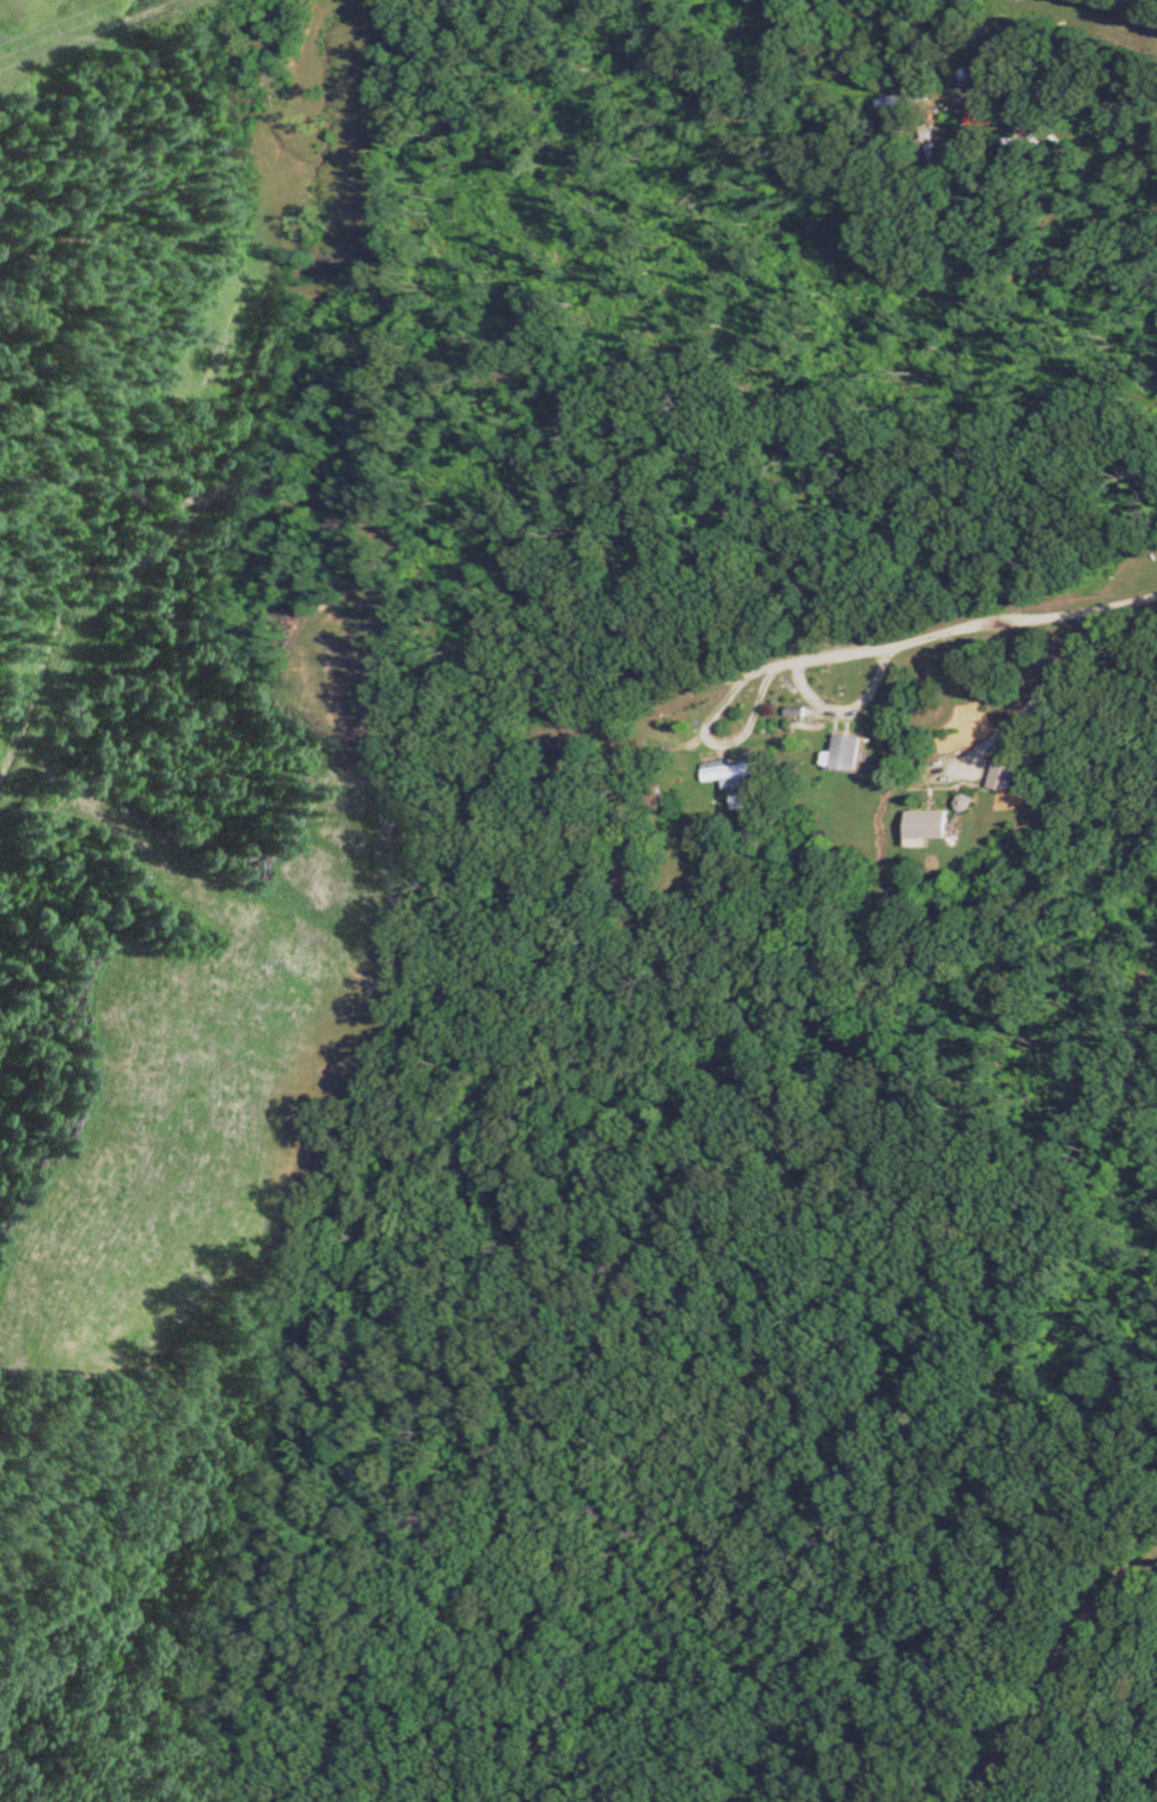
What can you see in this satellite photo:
road: (780, 124)
road: (720, 702)
building: (850, 751)
building: (734, 772)
building: (1005, 775)
road: (513, 778)
building: (932, 824)
road: (304, 856)
road: (1071, 1676)

